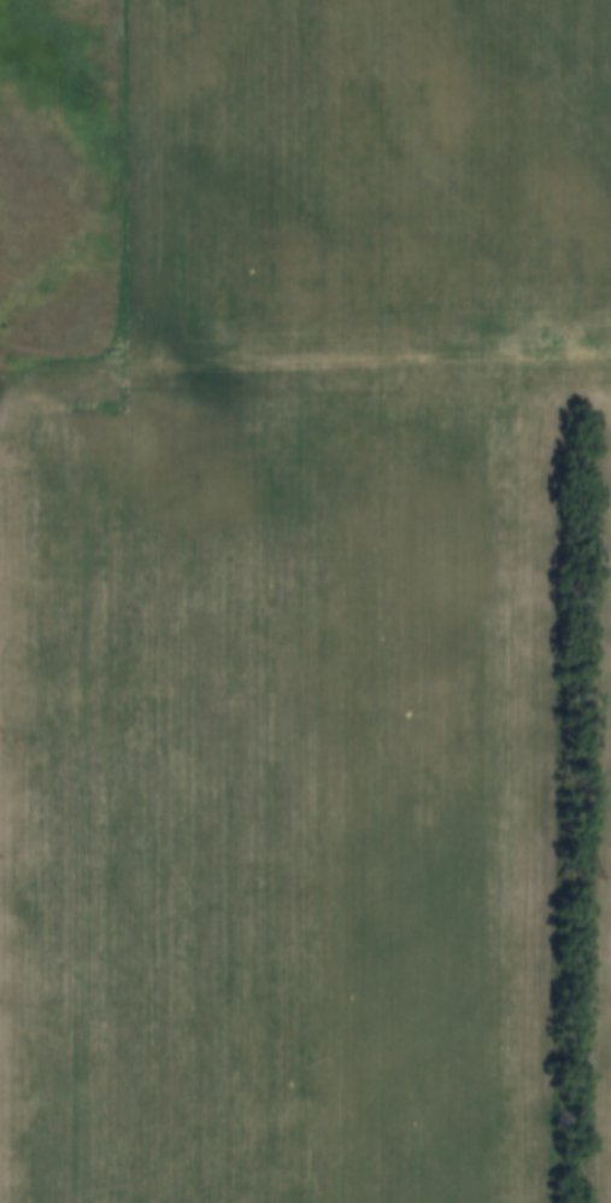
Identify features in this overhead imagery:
road: (304, 354)

